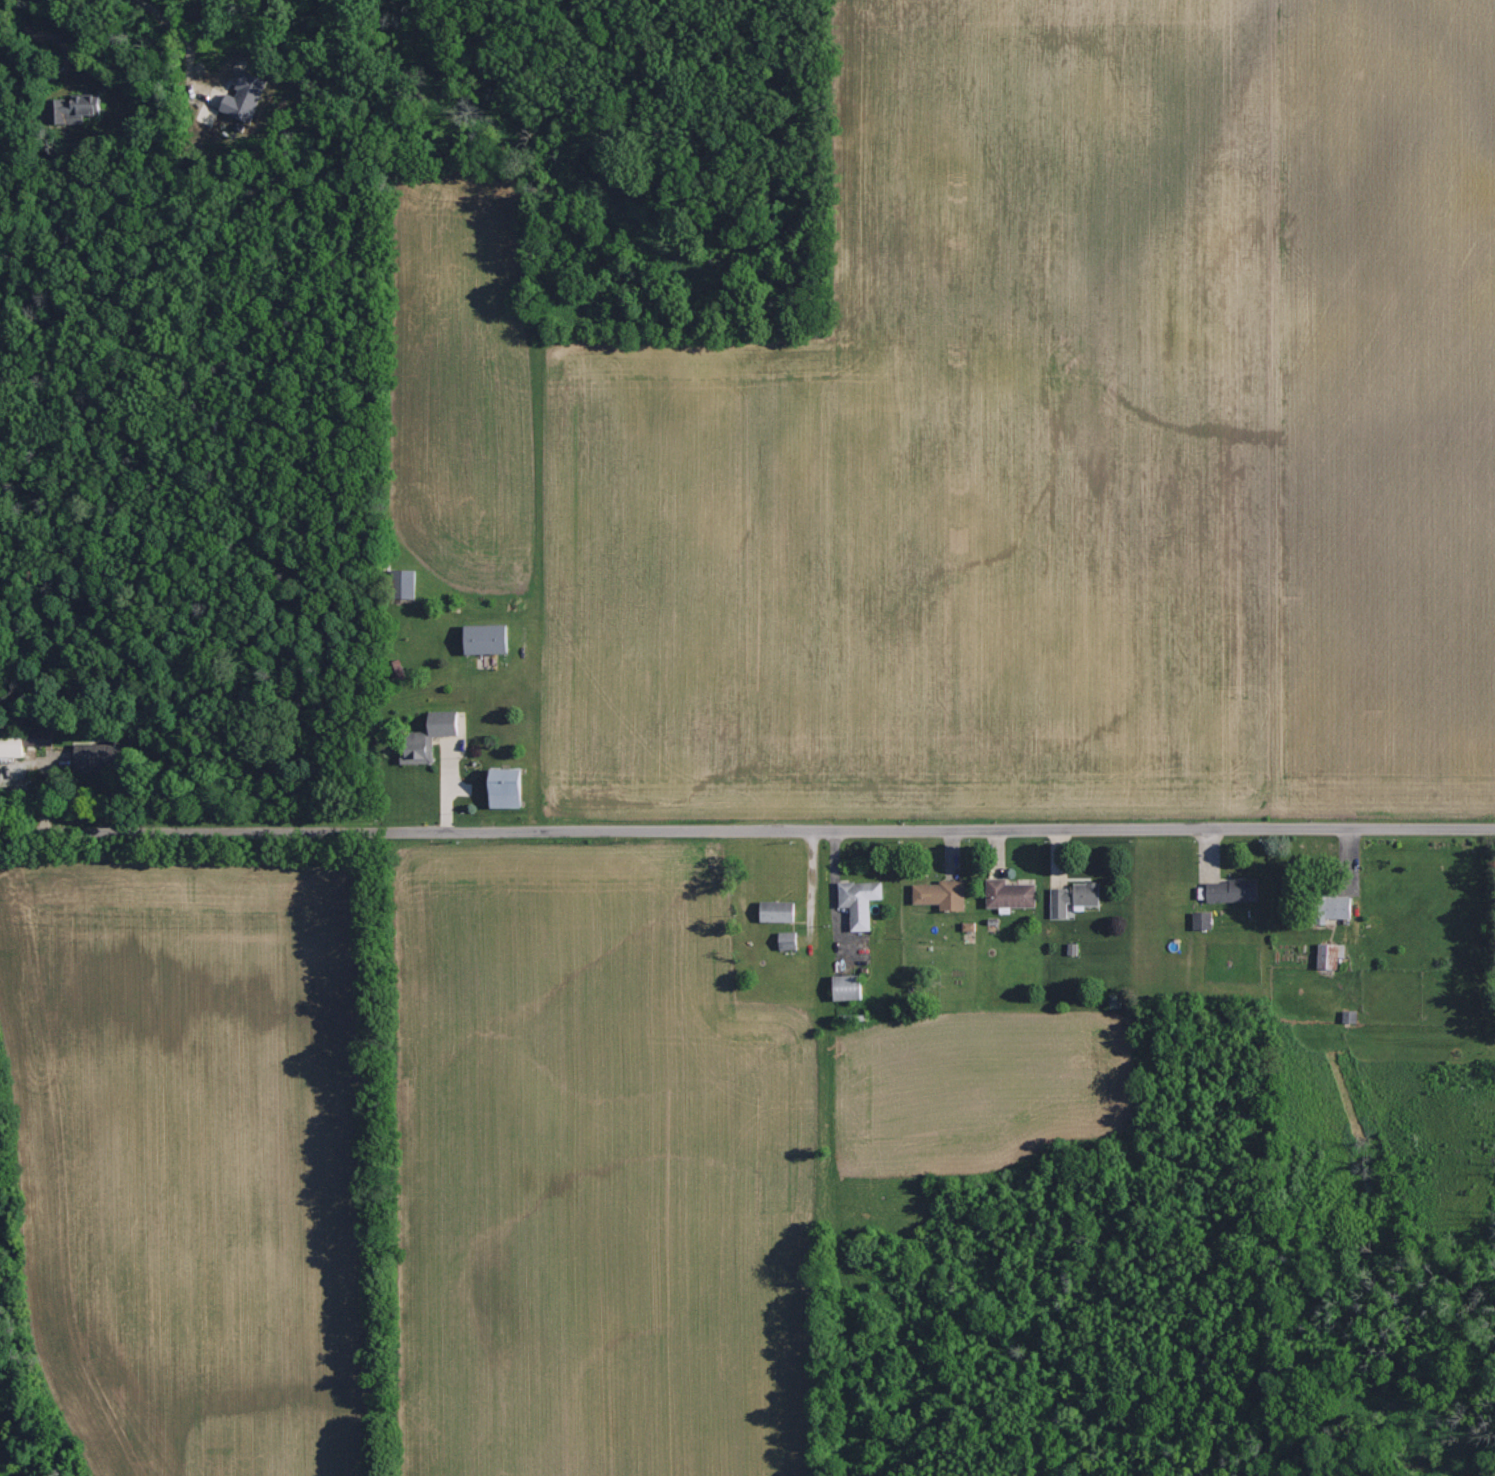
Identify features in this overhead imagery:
road: (53, 27)
building: (247, 96)
building: (79, 105)
building: (406, 583)
building: (490, 638)
building: (433, 736)
building: (22, 742)
building: (98, 755)
building: (509, 787)
road: (747, 828)
building: (1235, 890)
building: (944, 894)
building: (1012, 894)
building: (1076, 897)
building: (862, 901)
building: (779, 911)
building: (1204, 920)
building: (970, 926)
building: (789, 940)
building: (1333, 955)
building: (850, 987)
building: (1350, 1016)

